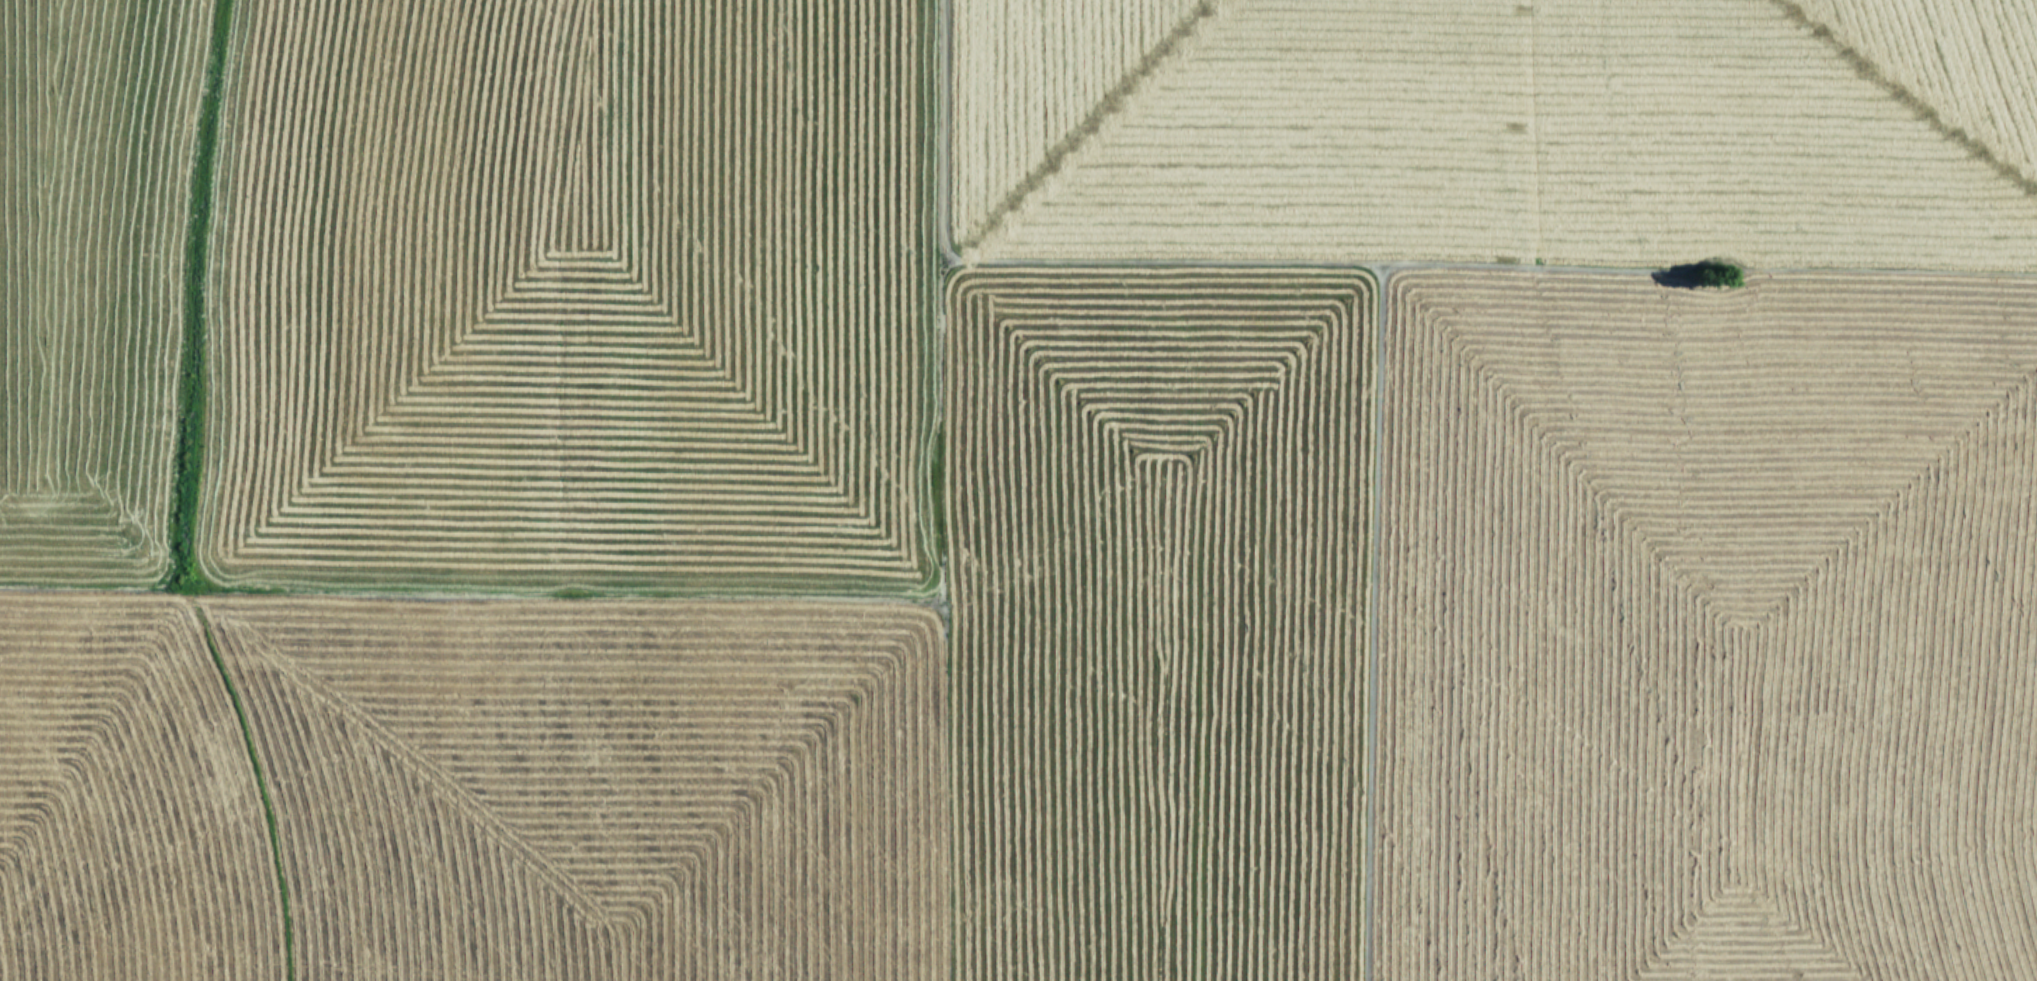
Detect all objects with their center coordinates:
crop: (1018, 490)

